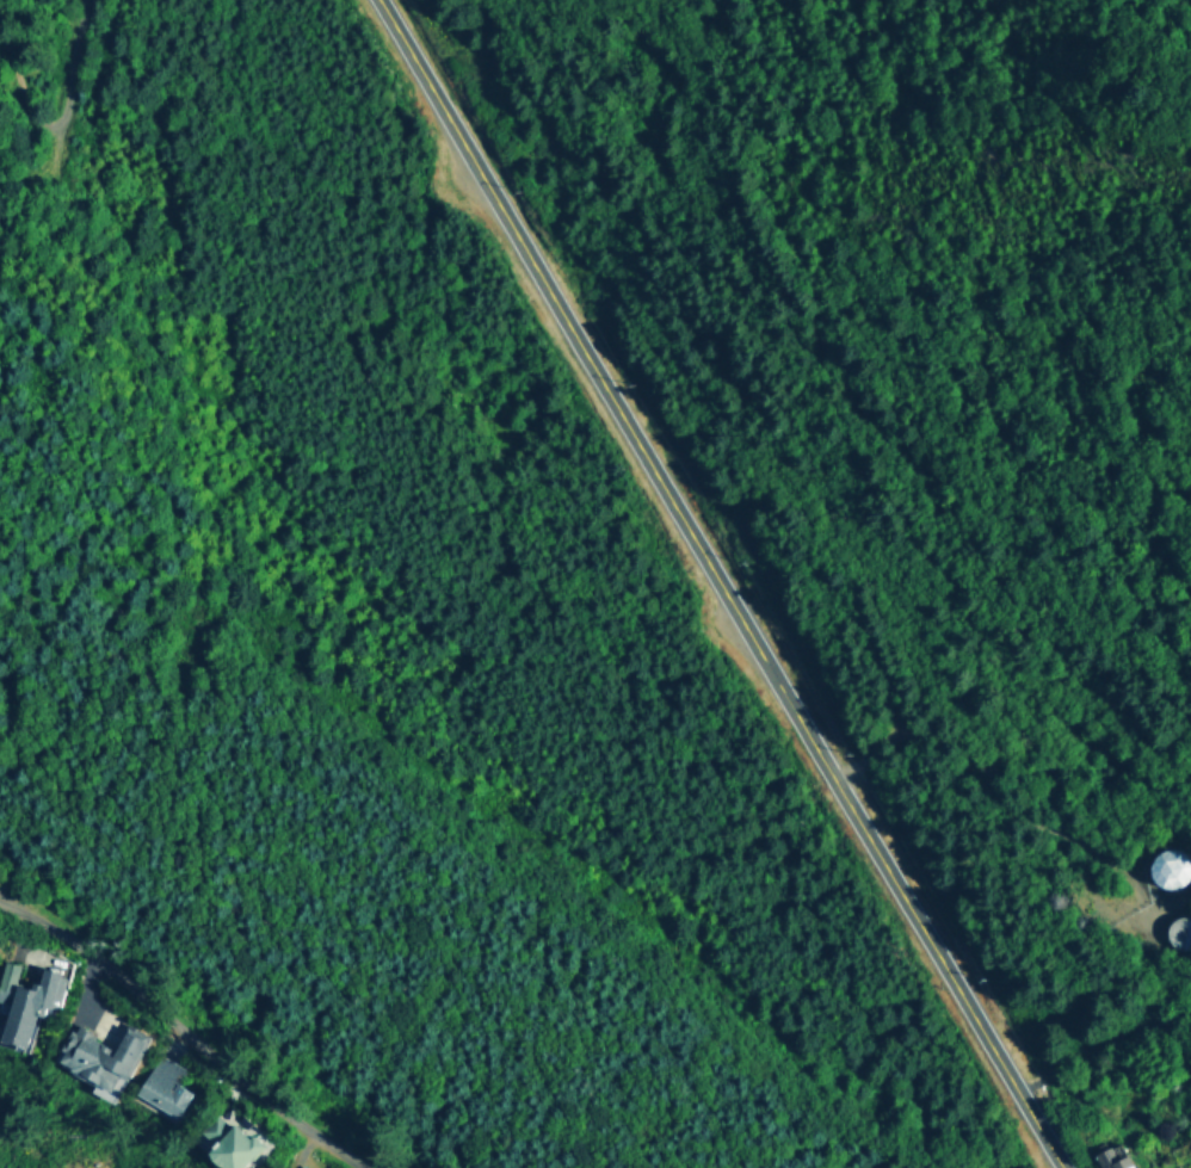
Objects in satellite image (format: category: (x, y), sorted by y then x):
road: (70, 97)
road: (721, 582)
building: (1167, 867)
building: (1178, 931)
building: (20, 997)
road: (186, 1031)
building: (91, 1052)
building: (156, 1083)
building: (221, 1142)
building: (1110, 1156)
building: (301, 1166)

